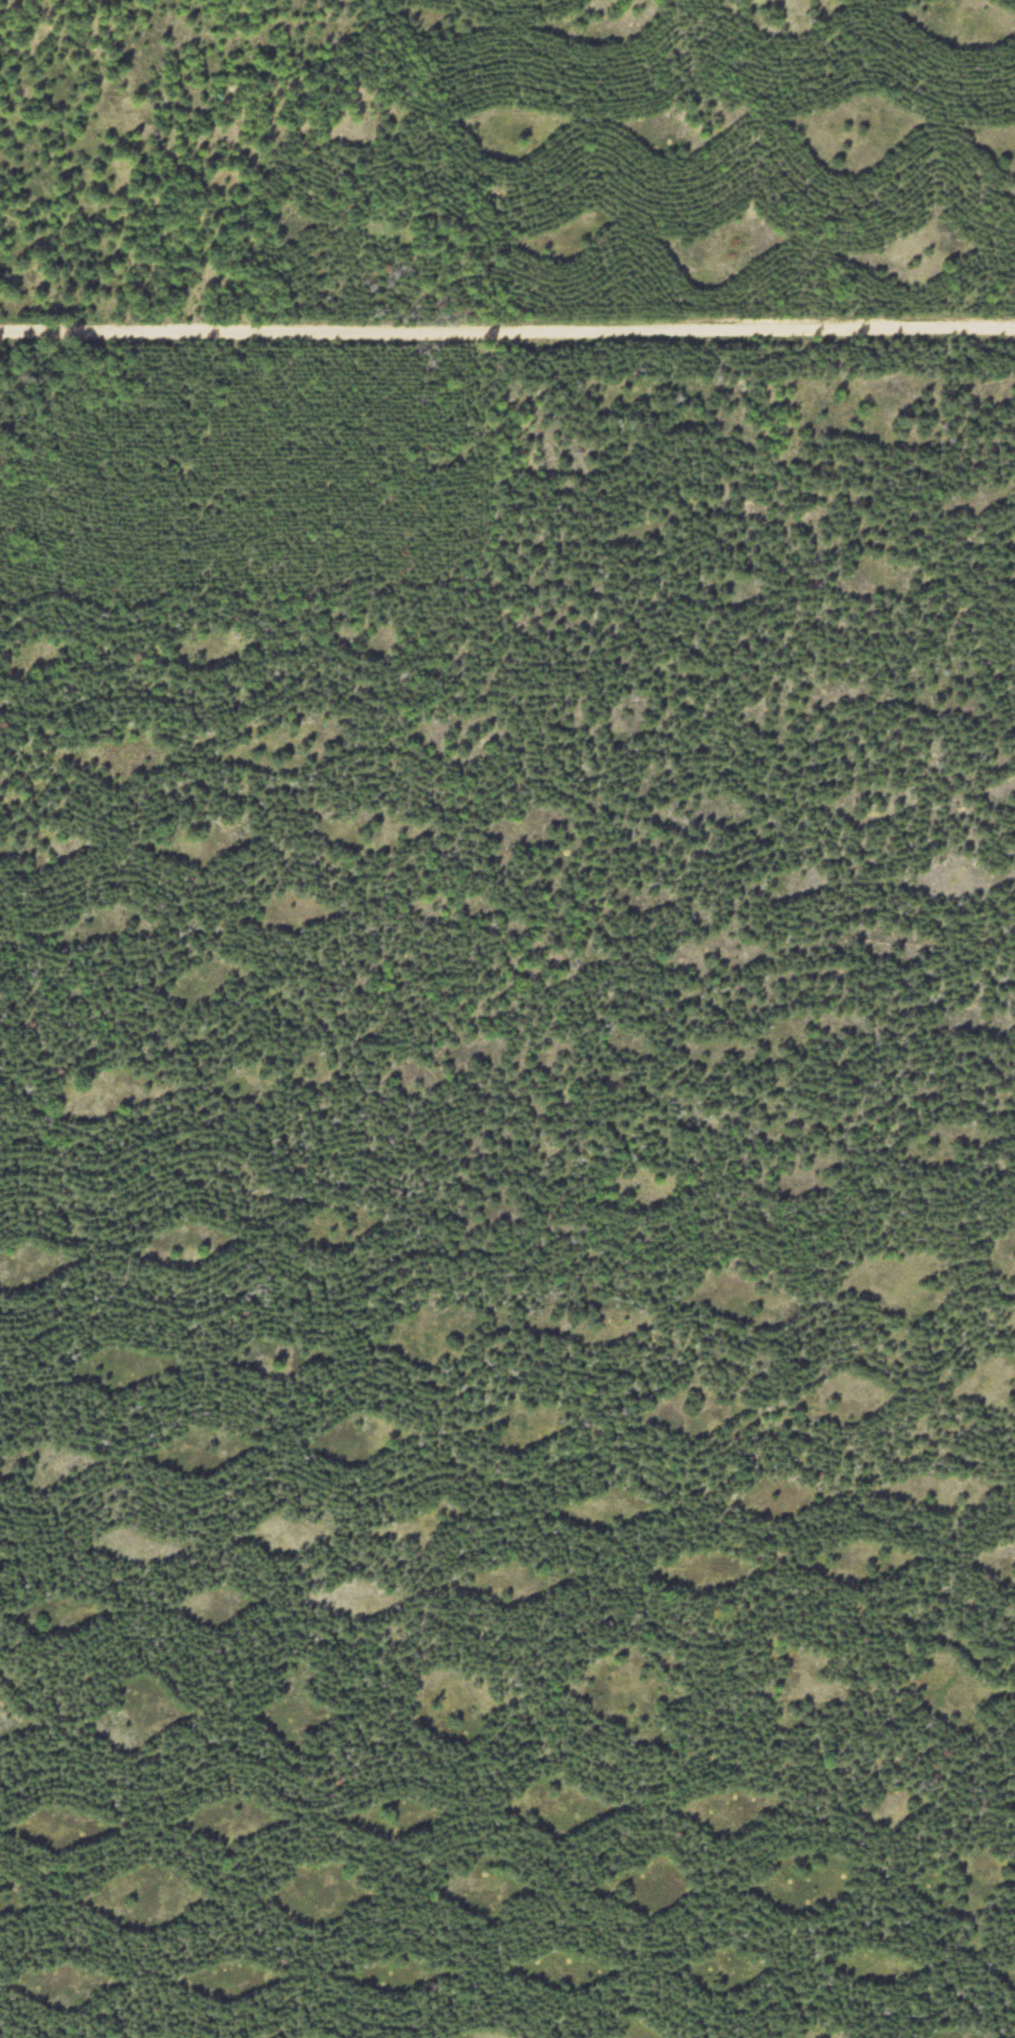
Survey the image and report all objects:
road: (507, 331)

